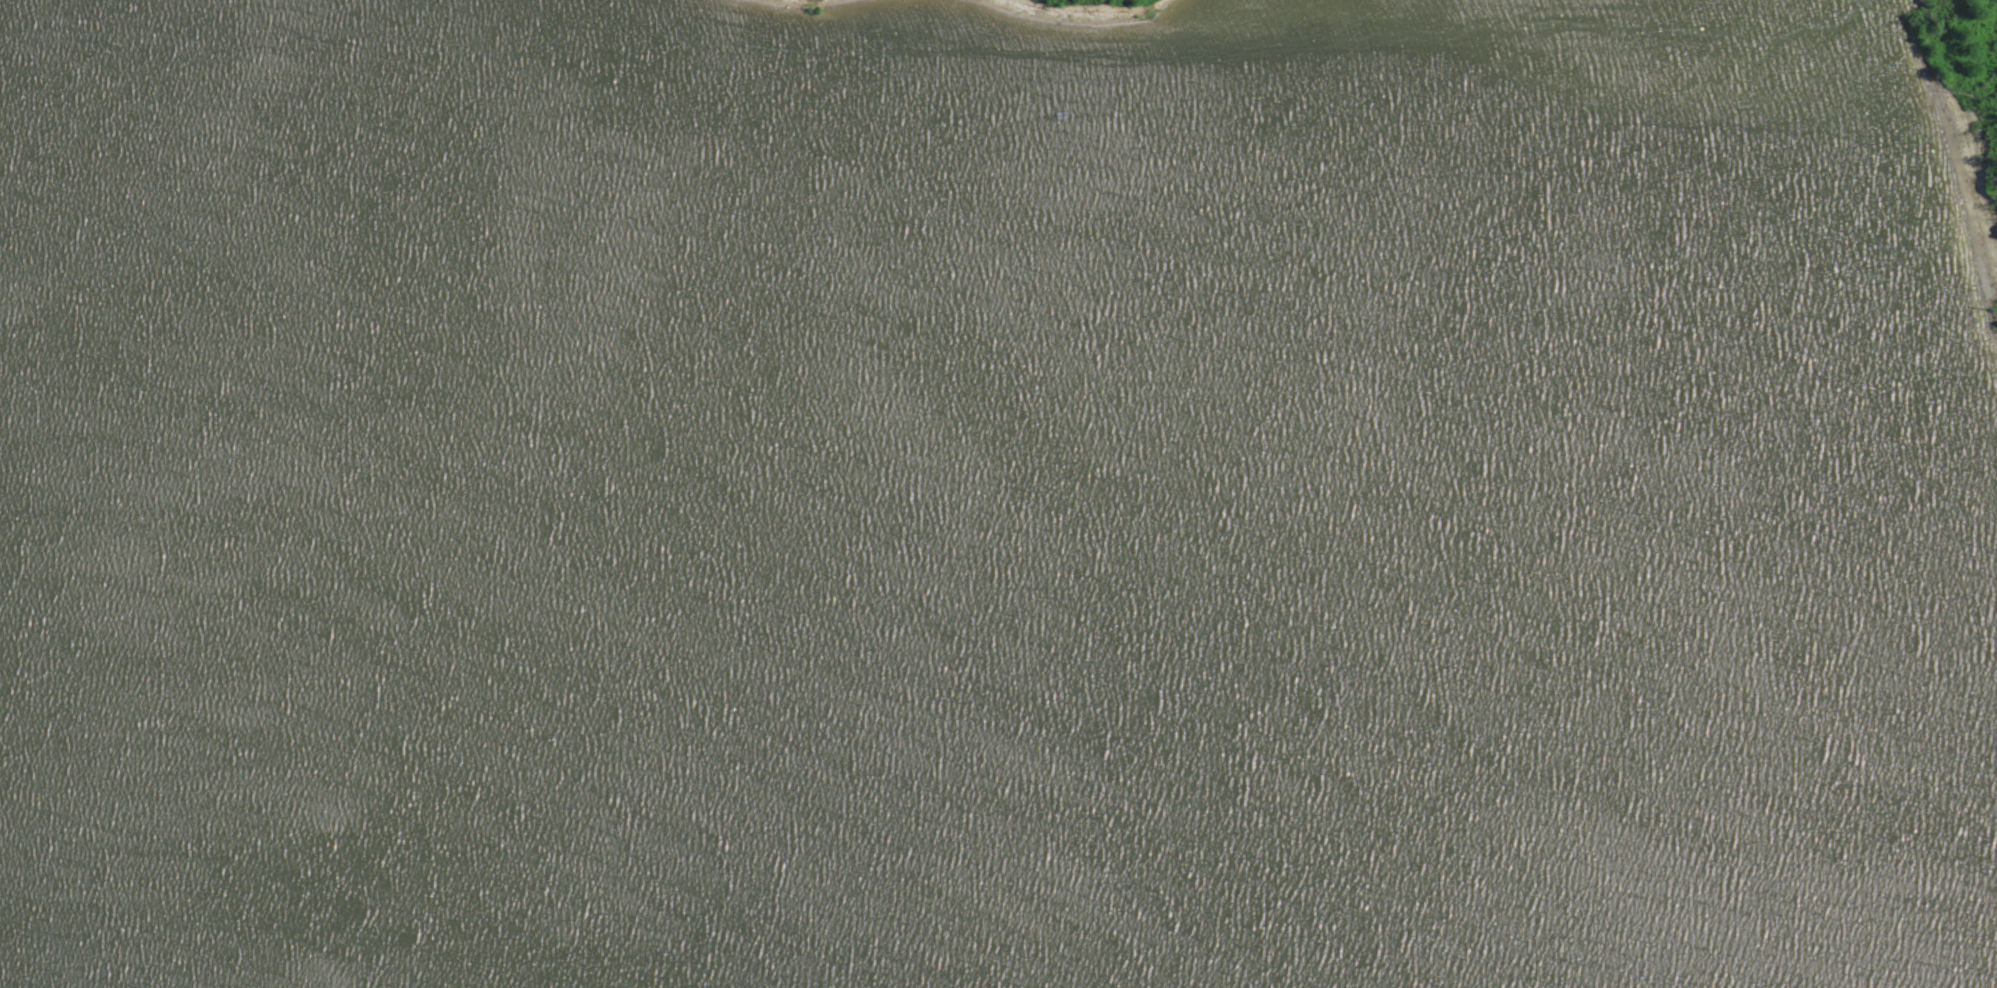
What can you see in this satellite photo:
road: (596, 5)
river: (865, 566)

